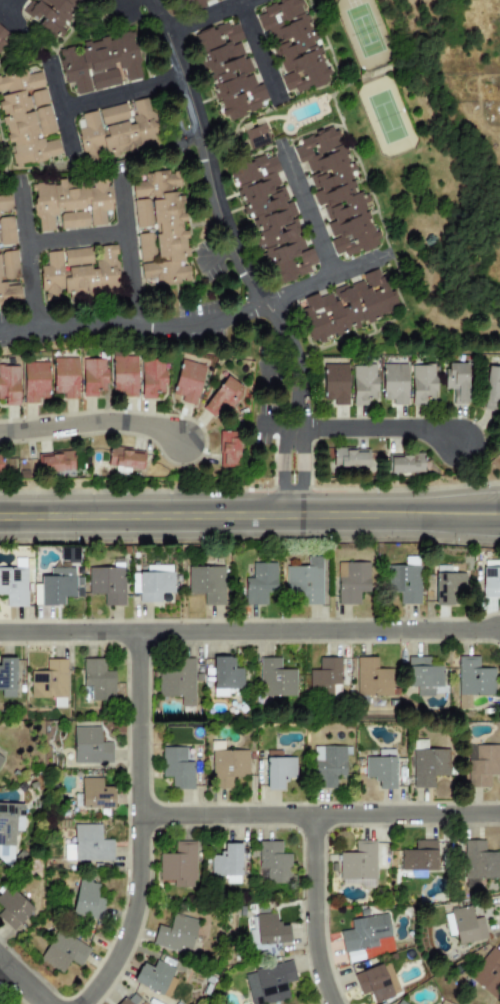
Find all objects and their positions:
road: (10, 3)
building: (204, 4)
road: (13, 11)
road: (201, 12)
building: (54, 14)
building: (3, 37)
building: (499, 38)
building: (294, 45)
road: (262, 47)
building: (100, 63)
building: (229, 71)
road: (126, 87)
road: (67, 108)
building: (26, 117)
building: (117, 131)
building: (258, 138)
building: (336, 192)
road: (309, 202)
building: (5, 203)
building: (71, 204)
building: (142, 214)
road: (225, 214)
building: (272, 218)
building: (162, 229)
building: (7, 231)
road: (78, 234)
road: (129, 248)
road: (32, 257)
building: (9, 264)
building: (78, 273)
building: (9, 294)
building: (347, 308)
road: (205, 324)
building: (123, 374)
building: (92, 376)
building: (64, 377)
building: (152, 377)
building: (187, 381)
building: (34, 382)
building: (456, 382)
building: (394, 383)
building: (335, 384)
building: (362, 384)
building: (421, 384)
building: (9, 385)
building: (491, 387)
building: (222, 395)
road: (94, 417)
road: (386, 423)
building: (228, 448)
building: (348, 457)
building: (124, 458)
building: (55, 463)
building: (405, 463)
building: (0, 464)
road: (282, 465)
road: (302, 467)
road: (250, 512)
building: (305, 581)
building: (351, 582)
building: (491, 582)
building: (152, 583)
building: (207, 583)
building: (260, 583)
building: (107, 584)
building: (13, 586)
building: (57, 586)
building: (448, 586)
road: (250, 625)
building: (422, 675)
building: (225, 676)
building: (325, 676)
building: (7, 677)
building: (372, 678)
building: (276, 679)
building: (49, 680)
building: (96, 680)
building: (177, 680)
building: (472, 680)
building: (90, 746)
building: (0, 759)
building: (427, 765)
building: (228, 766)
building: (328, 766)
building: (481, 766)
building: (176, 768)
building: (381, 769)
building: (278, 771)
building: (95, 794)
road: (317, 807)
building: (9, 822)
road: (135, 823)
building: (88, 845)
building: (419, 857)
building: (480, 861)
building: (274, 862)
building: (227, 863)
building: (358, 864)
building: (179, 865)
building: (87, 901)
road: (313, 907)
building: (13, 909)
building: (463, 925)
building: (270, 929)
building: (175, 934)
building: (365, 936)
building: (63, 952)
building: (488, 974)
building: (153, 976)
road: (25, 979)
building: (377, 982)
building: (269, 983)
building: (129, 999)
building: (400, 1002)
building: (177, 1003)

